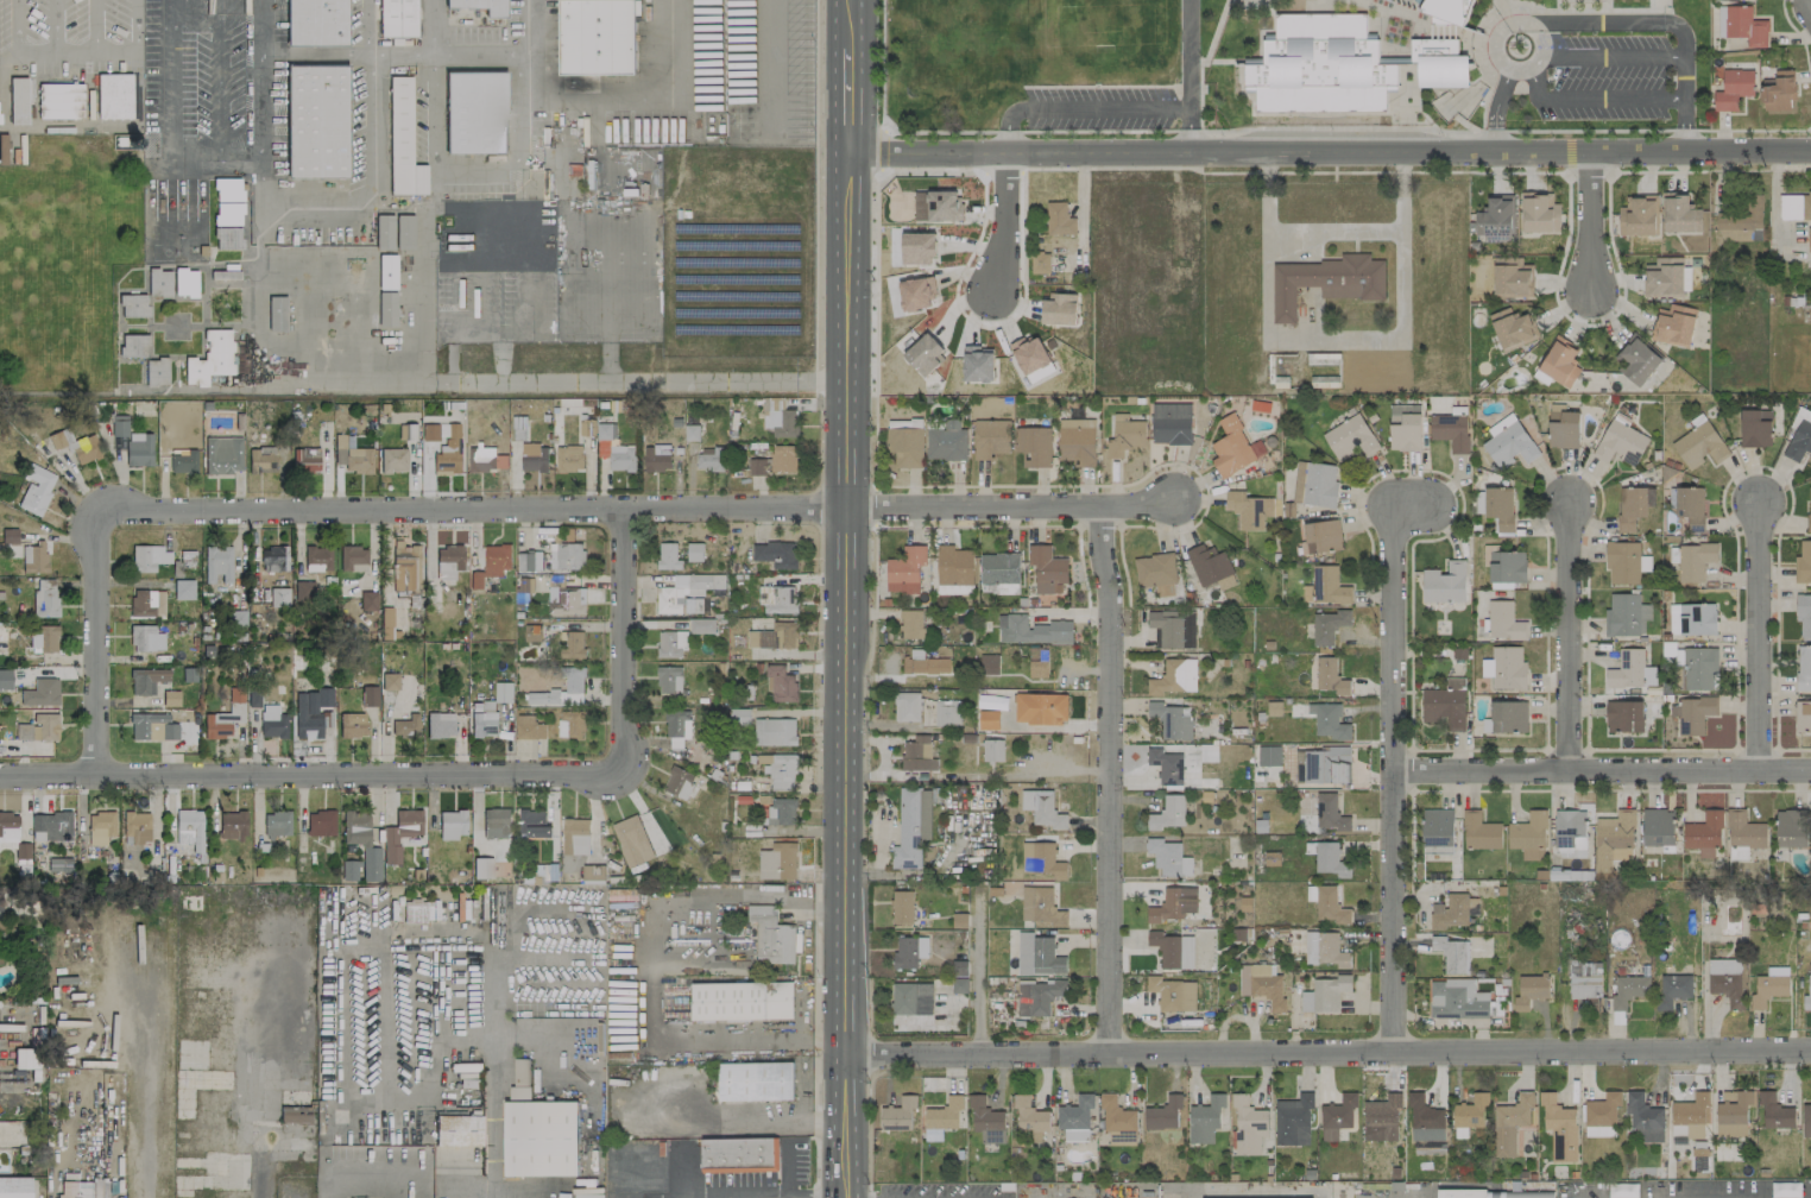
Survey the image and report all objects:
building: (479, 6)
building: (1446, 10)
building: (397, 18)
building: (316, 21)
road: (135, 23)
road: (1579, 23)
road: (14, 24)
road: (55, 24)
road: (94, 24)
road: (846, 24)
building: (1741, 25)
parking lot: (67, 37)
building: (595, 37)
road: (1801, 44)
road: (96, 46)
road: (34, 48)
park: (1015, 53)
road: (313, 55)
road: (1187, 56)
road: (881, 58)
road: (10, 59)
road: (1601, 59)
building: (1438, 63)
building: (1318, 67)
road: (170, 78)
parking lot: (725, 82)
building: (1733, 89)
road: (367, 93)
building: (1778, 93)
building: (113, 95)
road: (1595, 97)
road: (845, 99)
building: (59, 100)
road: (1494, 100)
road: (1681, 102)
parking lot: (1098, 107)
road: (1100, 109)
building: (475, 112)
road: (258, 121)
building: (316, 121)
road: (1810, 127)
road: (1008, 128)
road: (1343, 128)
road: (1188, 131)
building: (402, 141)
building: (2, 149)
road: (881, 149)
road: (1327, 151)
road: (1567, 152)
road: (259, 168)
road: (998, 172)
road: (1564, 174)
building: (227, 190)
road: (814, 197)
road: (304, 203)
building: (944, 206)
building: (1794, 206)
road: (1079, 209)
road: (513, 210)
building: (1540, 213)
building: (226, 214)
building: (1680, 214)
park: (179, 215)
building: (1638, 215)
building: (1495, 219)
building: (1059, 220)
road: (1002, 221)
road: (1589, 222)
building: (384, 232)
building: (404, 232)
road: (1331, 233)
road: (651, 235)
building: (226, 238)
building: (1809, 240)
building: (917, 247)
park: (163, 251)
park: (67, 260)
building: (1040, 263)
road: (419, 269)
road: (652, 270)
building: (387, 271)
building: (1512, 277)
building: (1664, 278)
building: (184, 282)
building: (1325, 282)
building: (157, 283)
road: (955, 283)
building: (916, 292)
road: (606, 299)
building: (132, 305)
building: (386, 309)
building: (1059, 309)
building: (276, 313)
building: (1673, 324)
building: (1512, 327)
road: (475, 328)
building: (132, 346)
building: (925, 354)
building: (1029, 354)
building: (209, 358)
building: (1321, 359)
building: (1636, 360)
building: (1559, 362)
building: (977, 364)
building: (154, 372)
building: (1037, 373)
building: (1325, 382)
road: (645, 384)
road: (360, 385)
building: (781, 423)
building: (904, 423)
building: (1170, 423)
building: (586, 428)
building: (1405, 428)
building: (1561, 428)
building: (1755, 428)
building: (429, 431)
building: (605, 431)
building: (1450, 431)
building: (518, 434)
building: (1125, 436)
building: (990, 439)
building: (1350, 439)
building: (347, 441)
building: (1799, 441)
building: (946, 442)
building: (1077, 442)
building: (132, 443)
building: (1508, 443)
building: (1620, 443)
building: (76, 446)
building: (905, 446)
building: (1033, 446)
building: (1699, 446)
building: (1233, 447)
building: (222, 455)
building: (448, 456)
building: (482, 458)
building: (534, 458)
building: (621, 458)
building: (568, 459)
building: (709, 459)
building: (261, 460)
building: (305, 460)
building: (358, 460)
building: (393, 460)
building: (655, 461)
building: (775, 461)
building: (182, 462)
building: (1314, 485)
building: (36, 488)
building: (1690, 506)
building: (1498, 507)
building: (1630, 507)
road: (504, 509)
building: (1809, 509)
building: (1248, 510)
road: (1595, 519)
building: (1321, 536)
building: (694, 553)
building: (775, 554)
building: (32, 556)
building: (566, 556)
building: (668, 556)
building: (149, 557)
building: (273, 559)
building: (317, 559)
building: (352, 559)
building: (497, 559)
building: (448, 561)
building: (529, 561)
building: (1693, 561)
building: (1803, 562)
building: (217, 563)
building: (1622, 563)
building: (1207, 565)
building: (954, 566)
building: (405, 567)
building: (1507, 567)
building: (999, 568)
building: (1047, 569)
building: (904, 570)
building: (1156, 574)
building: (556, 581)
building: (1444, 584)
building: (1329, 586)
building: (183, 589)
building: (954, 589)
building: (1007, 589)
building: (303, 591)
building: (523, 592)
building: (686, 593)
building: (278, 597)
building: (45, 598)
building: (368, 600)
building: (778, 600)
building: (566, 601)
building: (143, 603)
building: (1803, 614)
building: (1624, 616)
building: (1696, 619)
building: (1503, 622)
building: (386, 623)
building: (701, 625)
building: (911, 625)
building: (1327, 626)
building: (1172, 629)
building: (2, 631)
building: (1031, 631)
building: (531, 633)
building: (774, 636)
building: (43, 638)
building: (145, 638)
road: (1566, 638)
road: (1759, 638)
building: (670, 643)
building: (572, 644)
building: (1037, 662)
building: (923, 663)
building: (989, 664)
building: (1504, 668)
building: (1803, 668)
building: (1626, 669)
building: (1699, 669)
road: (1084, 670)
road: (846, 674)
building: (1330, 676)
building: (1174, 677)
building: (5, 679)
building: (573, 679)
building: (146, 680)
building: (669, 680)
building: (390, 681)
building: (780, 683)
building: (44, 691)
building: (503, 692)
building: (368, 695)
building: (170, 698)
building: (1445, 705)
building: (905, 707)
building: (1040, 708)
building: (311, 712)
building: (946, 713)
building: (738, 715)
building: (1695, 715)
building: (225, 717)
building: (1508, 717)
building: (1623, 717)
building: (1803, 717)
road: (383, 718)
building: (987, 720)
building: (272, 721)
building: (1170, 721)
building: (1329, 721)
building: (570, 724)
building: (677, 724)
building: (352, 725)
building: (440, 725)
building: (152, 726)
building: (405, 726)
building: (38, 727)
building: (529, 727)
building: (776, 731)
building: (675, 743)
building: (992, 750)
building: (917, 755)
building: (1269, 756)
building: (1320, 765)
building: (1166, 767)
road: (1601, 769)
building: (781, 770)
road: (1029, 771)
road: (437, 775)
road: (1106, 780)
road: (1392, 780)
building: (679, 783)
building: (1042, 808)
building: (781, 812)
building: (1168, 813)
building: (1330, 813)
building: (320, 822)
building: (277, 824)
building: (452, 824)
building: (496, 824)
building: (532, 824)
road: (881, 824)
building: (8, 825)
building: (232, 825)
building: (51, 826)
building: (137, 826)
building: (100, 827)
building: (1658, 827)
building: (189, 828)
building: (1437, 828)
building: (1570, 828)
building: (1791, 828)
building: (909, 830)
building: (1528, 831)
building: (1744, 831)
building: (1479, 832)
building: (1704, 833)
building: (402, 834)
building: (575, 837)
building: (1614, 839)
building: (631, 840)
building: (361, 841)
building: (1571, 853)
building: (1532, 855)
building: (1168, 858)
building: (1041, 859)
building: (1330, 859)
building: (777, 862)
building: (59, 864)
building: (482, 868)
building: (349, 870)
road: (905, 872)
building: (593, 875)
building: (6, 901)
building: (1173, 904)
building: (1327, 904)
building: (901, 907)
building: (1040, 907)
building: (1450, 912)
building: (414, 913)
building: (771, 937)
building: (1172, 950)
building: (1324, 950)
building: (909, 952)
building: (1451, 954)
building: (1037, 956)
road: (643, 969)
road: (974, 976)
building: (1584, 979)
building: (1725, 981)
building: (959, 985)
building: (1261, 985)
building: (1529, 990)
building: (1672, 990)
building: (1767, 990)
building: (1628, 991)
building: (1172, 994)
building: (1324, 995)
building: (1039, 996)
building: (1807, 996)
building: (911, 998)
building: (1457, 1000)
building: (740, 1001)
road: (440, 1023)
road: (1329, 1054)
road: (490, 1080)
building: (755, 1082)
building: (1602, 1110)
building: (1470, 1111)
building: (1075, 1112)
building: (1774, 1112)
building: (294, 1114)
building: (897, 1114)
building: (1162, 1114)
building: (1733, 1114)
building: (1692, 1115)
building: (1029, 1116)
building: (1337, 1116)
building: (1643, 1117)
building: (941, 1118)
building: (1381, 1118)
building: (1205, 1120)
building: (1425, 1120)
building: (1806, 1120)
road: (739, 1121)
building: (986, 1121)
building: (1293, 1121)
building: (1510, 1123)
building: (1248, 1126)
building: (1559, 1128)
building: (458, 1129)
building: (1075, 1135)
building: (541, 1139)
building: (739, 1155)
road: (359, 1180)
building: (14, 1186)
building: (82, 1190)
building: (598, 1191)
road: (1254, 1193)
building: (1460, 1193)
road: (468, 1194)
building: (1495, 1194)
road: (487, 1196)
road: (1186, 1196)
road: (1702, 1196)
road: (756, 1197)

